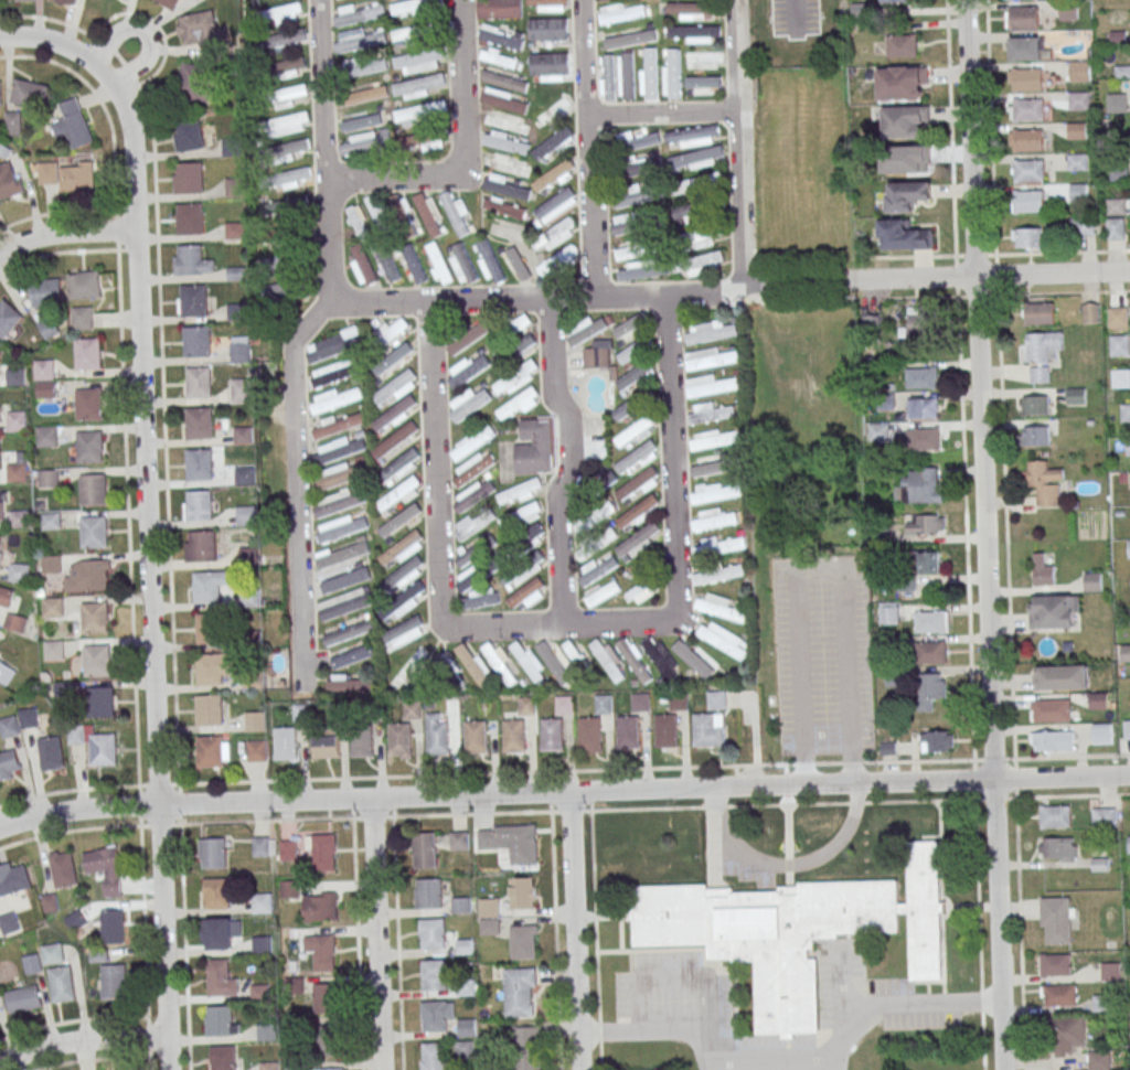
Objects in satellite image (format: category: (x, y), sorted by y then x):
building: (18, 0)
building: (896, 1)
building: (169, 3)
building: (550, 4)
building: (415, 7)
building: (499, 9)
building: (690, 10)
building: (622, 12)
building: (285, 13)
building: (360, 13)
road: (797, 13)
building: (1024, 15)
road: (14, 17)
building: (200, 29)
building: (547, 29)
building: (695, 32)
road: (145, 34)
building: (414, 36)
building: (501, 36)
building: (630, 39)
building: (287, 40)
building: (353, 40)
building: (902, 45)
building: (1026, 46)
road: (12, 56)
building: (707, 57)
building: (502, 60)
building: (356, 66)
building: (547, 66)
building: (291, 67)
building: (1080, 71)
building: (650, 73)
building: (672, 74)
building: (627, 75)
building: (609, 77)
building: (1028, 78)
building: (505, 82)
building: (902, 83)
building: (193, 84)
building: (707, 87)
road: (322, 88)
building: (0, 94)
building: (30, 94)
building: (289, 96)
building: (356, 96)
building: (1079, 99)
building: (510, 101)
building: (1117, 103)
building: (1028, 109)
building: (553, 110)
road: (664, 111)
building: (358, 120)
building: (905, 121)
building: (13, 122)
building: (73, 124)
road: (991, 127)
road: (950, 128)
building: (1077, 130)
building: (694, 135)
building: (189, 136)
building: (638, 139)
building: (1027, 139)
building: (423, 142)
road: (743, 142)
building: (365, 143)
building: (504, 145)
building: (233, 147)
building: (295, 148)
road: (588, 149)
building: (3, 151)
road: (462, 151)
building: (696, 158)
building: (1077, 161)
building: (507, 165)
building: (640, 167)
building: (1030, 170)
building: (1119, 173)
building: (67, 175)
building: (190, 176)
building: (295, 176)
building: (9, 180)
building: (696, 183)
building: (235, 185)
building: (508, 188)
building: (1079, 191)
building: (636, 194)
building: (906, 196)
building: (1028, 201)
building: (556, 205)
building: (1117, 205)
building: (504, 207)
building: (457, 213)
building: (690, 213)
building: (379, 214)
building: (404, 215)
building: (430, 215)
building: (191, 217)
building: (635, 217)
building: (360, 221)
building: (1086, 225)
building: (1116, 228)
building: (236, 229)
road: (66, 232)
building: (903, 235)
building: (1027, 238)
road: (327, 243)
building: (191, 258)
building: (558, 260)
building: (489, 261)
building: (704, 263)
building: (439, 264)
building: (462, 264)
building: (390, 265)
building: (415, 265)
building: (518, 265)
building: (237, 272)
road: (956, 275)
road: (884, 278)
building: (84, 285)
building: (285, 291)
building: (45, 292)
building: (194, 300)
road: (484, 303)
building: (237, 311)
building: (1089, 312)
building: (1038, 313)
building: (1117, 317)
building: (82, 318)
building: (8, 319)
building: (918, 320)
building: (516, 325)
building: (629, 327)
building: (47, 328)
building: (588, 330)
building: (393, 331)
building: (711, 331)
building: (469, 338)
building: (199, 341)
building: (331, 345)
building: (1119, 345)
building: (516, 350)
building: (241, 351)
building: (631, 352)
building: (89, 353)
building: (1041, 353)
road: (671, 355)
building: (597, 356)
building: (710, 359)
building: (393, 363)
building: (44, 370)
building: (469, 372)
building: (334, 373)
building: (14, 377)
building: (920, 377)
building: (1120, 377)
building: (516, 378)
building: (200, 382)
building: (712, 386)
building: (396, 388)
building: (46, 389)
building: (242, 392)
building: (1075, 395)
building: (335, 399)
building: (89, 404)
building: (468, 404)
building: (519, 405)
building: (1034, 405)
building: (923, 408)
building: (714, 413)
building: (1124, 413)
building: (395, 415)
building: (17, 420)
building: (201, 421)
building: (338, 425)
building: (878, 431)
building: (636, 432)
building: (244, 434)
building: (1034, 435)
building: (47, 437)
building: (715, 438)
building: (919, 439)
building: (395, 442)
building: (472, 442)
building: (92, 446)
building: (1128, 446)
building: (342, 447)
building: (535, 447)
road: (437, 451)
building: (0, 453)
building: (636, 458)
road: (571, 462)
building: (201, 464)
building: (707, 467)
building: (397, 468)
building: (472, 468)
building: (18, 472)
building: (341, 473)
building: (245, 474)
building: (607, 475)
building: (49, 479)
building: (1129, 480)
building: (1045, 483)
building: (919, 486)
building: (95, 489)
building: (520, 492)
building: (715, 492)
road: (297, 494)
building: (398, 495)
building: (470, 496)
building: (339, 502)
building: (1, 503)
building: (201, 505)
road: (675, 505)
road: (149, 511)
building: (638, 513)
building: (247, 515)
building: (521, 516)
building: (20, 518)
building: (595, 518)
building: (713, 520)
building: (51, 521)
building: (923, 524)
building: (468, 526)
building: (342, 527)
building: (96, 531)
road: (985, 534)
building: (639, 541)
building: (204, 544)
building: (596, 544)
building: (719, 545)
building: (402, 549)
building: (476, 549)
building: (1128, 549)
building: (1, 550)
building: (249, 555)
building: (500, 557)
road: (1008, 563)
building: (51, 564)
road: (818, 564)
building: (639, 566)
building: (599, 567)
building: (916, 569)
building: (523, 570)
building: (19, 571)
building: (1043, 571)
building: (94, 573)
building: (406, 573)
building: (718, 574)
building: (345, 578)
building: (1091, 581)
road: (131, 585)
building: (207, 587)
building: (642, 591)
building: (604, 593)
building: (527, 595)
building: (6, 597)
building: (250, 598)
building: (407, 599)
building: (480, 599)
building: (344, 603)
building: (53, 608)
building: (718, 608)
building: (1053, 611)
building: (888, 613)
building: (96, 618)
building: (930, 621)
building: (15, 622)
road: (558, 624)
building: (209, 627)
building: (349, 632)
building: (404, 633)
building: (252, 638)
building: (723, 639)
building: (54, 651)
building: (931, 652)
building: (575, 653)
building: (352, 655)
building: (631, 655)
building: (661, 657)
building: (98, 660)
building: (609, 660)
building: (500, 662)
building: (529, 662)
building: (557, 662)
building: (210, 668)
building: (409, 668)
building: (447, 670)
building: (6, 673)
building: (1059, 677)
building: (254, 680)
building: (350, 683)
building: (64, 689)
building: (930, 689)
building: (679, 699)
building: (717, 699)
building: (1097, 700)
building: (102, 702)
building: (641, 702)
building: (565, 704)
building: (604, 704)
building: (527, 705)
building: (210, 709)
building: (414, 709)
building: (1049, 709)
building: (301, 713)
building: (338, 713)
building: (29, 718)
building: (256, 719)
building: (9, 727)
building: (704, 728)
building: (667, 729)
building: (629, 730)
building: (590, 732)
building: (553, 734)
building: (1101, 734)
building: (438, 735)
building: (514, 735)
building: (477, 736)
building: (362, 739)
building: (401, 739)
building: (936, 741)
building: (1052, 741)
building: (286, 742)
building: (327, 747)
building: (105, 749)
building: (211, 750)
building: (257, 752)
building: (51, 753)
road: (845, 762)
building: (9, 766)
road: (563, 792)
road: (1073, 795)
building: (1054, 816)
building: (1106, 816)
road: (257, 821)
road: (68, 831)
building: (508, 841)
building: (1128, 844)
building: (260, 846)
building: (1056, 848)
building: (288, 849)
building: (424, 850)
building: (322, 852)
building: (213, 853)
building: (1100, 860)
road: (786, 866)
building: (63, 869)
building: (106, 869)
building: (14, 879)
building: (289, 889)
building: (522, 892)
building: (216, 894)
building: (428, 894)
building: (262, 901)
building: (461, 906)
building: (319, 907)
building: (489, 917)
building: (75, 920)
building: (1056, 920)
building: (9, 922)
building: (113, 927)
road: (184, 927)
road: (573, 930)
building: (793, 930)
building: (218, 933)
road: (379, 933)
building: (433, 933)
road: (1021, 933)
building: (523, 942)
road: (358, 943)
road: (398, 943)
building: (260, 944)
building: (322, 951)
building: (53, 953)
building: (32, 964)
building: (1055, 965)
building: (1109, 972)
building: (434, 974)
building: (222, 978)
building: (115, 982)
building: (61, 984)
building: (520, 992)
building: (1058, 995)
building: (23, 999)
building: (324, 999)
road: (941, 1002)
parking lot: (897, 1003)
building: (437, 1016)
building: (222, 1020)
building: (467, 1028)
road: (651, 1030)
building: (266, 1031)
building: (1067, 1035)
building: (331, 1040)
road: (83, 1041)
building: (526, 1048)
building: (463, 1050)
building: (433, 1056)
building: (223, 1058)
building: (1098, 1060)
road: (799, 1063)
building: (269, 1066)
building: (330, 1069)

